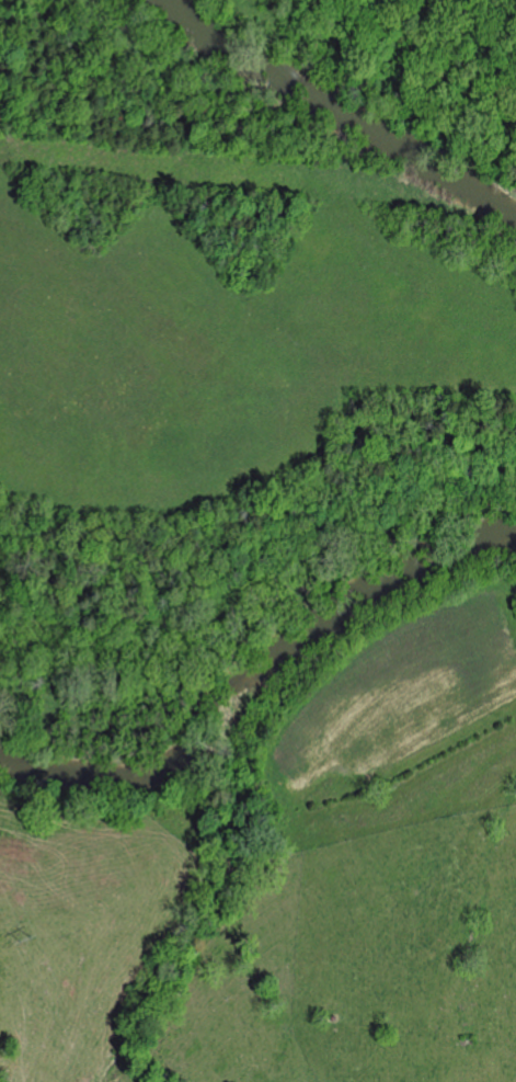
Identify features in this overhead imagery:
power tower: (24, 934)

